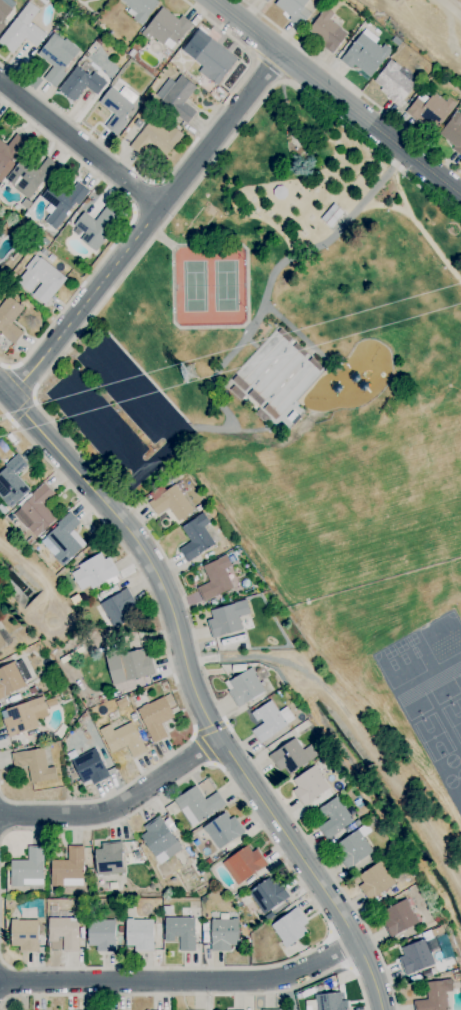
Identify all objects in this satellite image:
building: (266, 0)
building: (141, 8)
road: (449, 8)
building: (293, 9)
building: (3, 12)
building: (22, 28)
building: (166, 28)
building: (326, 29)
building: (209, 55)
building: (56, 56)
building: (393, 82)
building: (80, 83)
building: (176, 96)
road: (337, 97)
building: (117, 106)
building: (430, 109)
building: (452, 131)
building: (155, 138)
road: (81, 144)
building: (10, 152)
building: (29, 176)
building: (277, 191)
building: (62, 200)
road: (381, 204)
building: (329, 214)
road: (149, 225)
building: (94, 226)
road: (419, 230)
road: (159, 238)
road: (175, 244)
road: (272, 270)
building: (40, 278)
park: (225, 284)
park: (292, 284)
park: (190, 285)
building: (9, 317)
road: (245, 327)
road: (297, 334)
building: (276, 371)
power tower: (193, 374)
building: (269, 409)
parking lot: (116, 410)
road: (156, 412)
road: (220, 428)
road: (101, 430)
building: (11, 481)
road: (125, 490)
building: (169, 501)
building: (35, 511)
building: (195, 536)
building: (64, 538)
building: (93, 571)
building: (215, 578)
building: (119, 607)
building: (226, 618)
building: (2, 641)
building: (128, 665)
building: (9, 679)
building: (243, 686)
road: (195, 689)
building: (24, 715)
building: (156, 716)
building: (269, 719)
building: (122, 738)
building: (292, 755)
building: (33, 764)
building: (89, 766)
building: (309, 784)
building: (197, 804)
road: (119, 809)
building: (333, 817)
building: (222, 829)
building: (159, 839)
building: (352, 848)
building: (108, 858)
building: (242, 863)
building: (28, 867)
building: (67, 868)
building: (374, 879)
building: (268, 894)
building: (397, 917)
building: (289, 926)
building: (180, 931)
building: (64, 932)
building: (139, 933)
building: (223, 933)
building: (24, 934)
building: (101, 934)
building: (415, 956)
road: (183, 984)
building: (433, 996)
building: (330, 1001)
building: (270, 1009)

